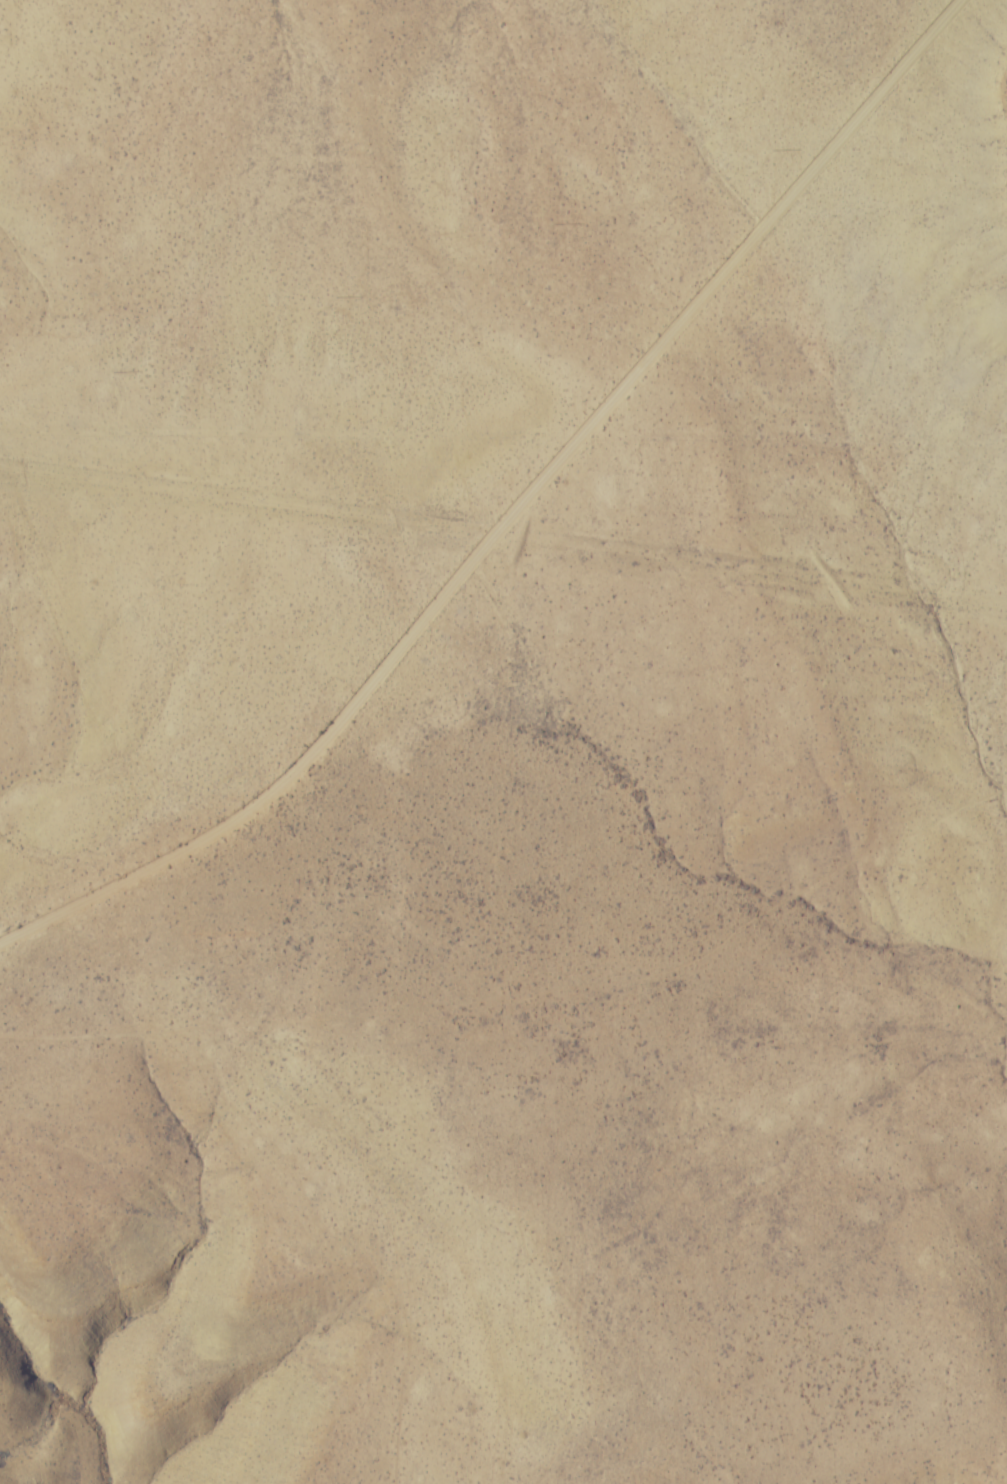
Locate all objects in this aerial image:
road: (527, 523)

